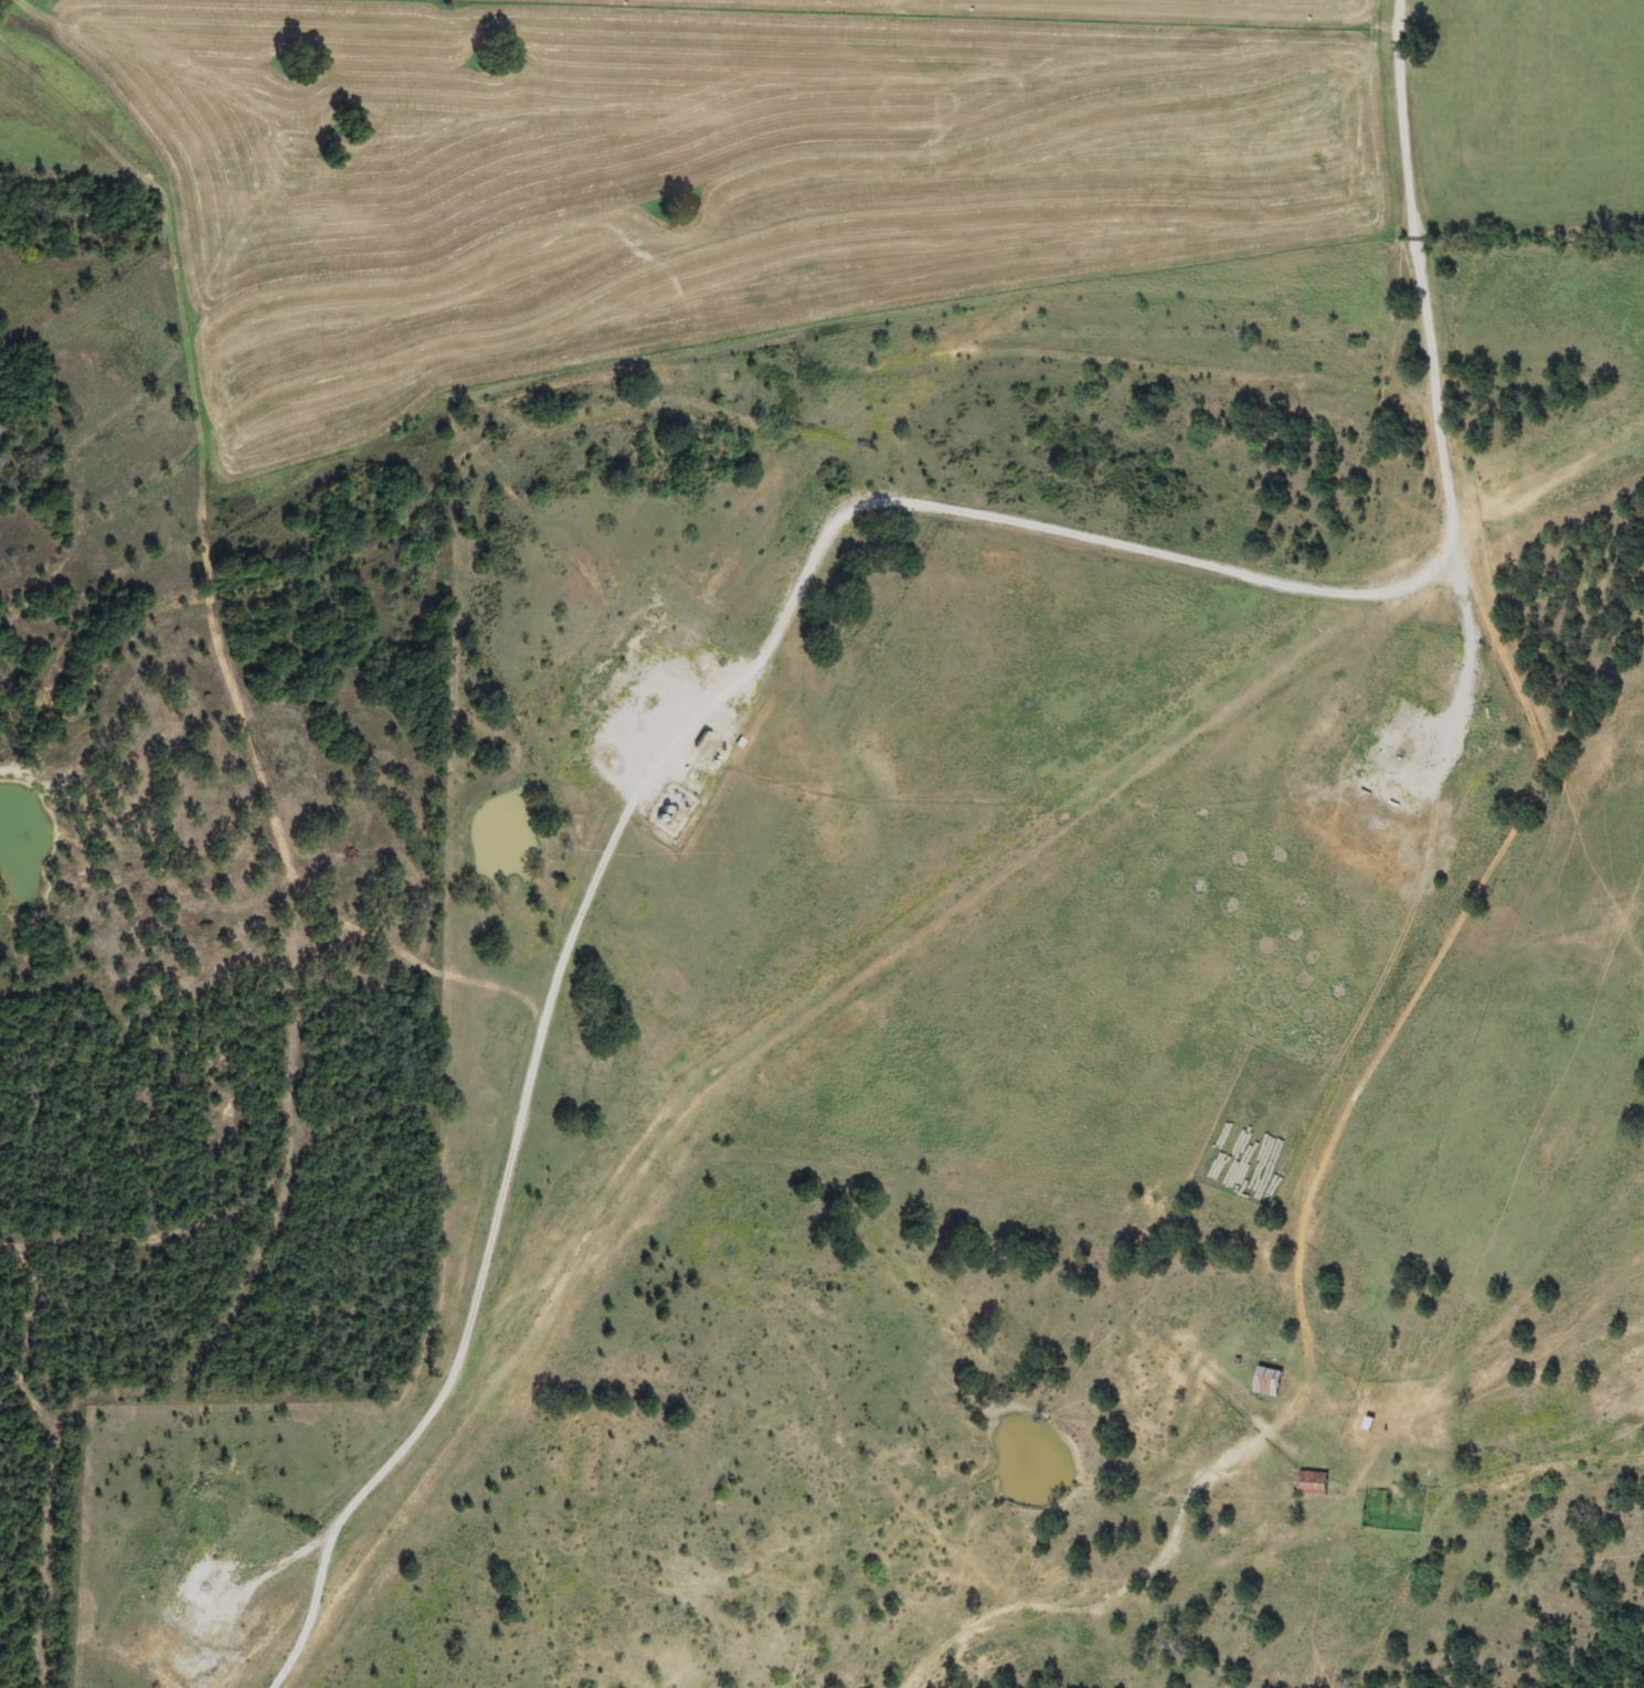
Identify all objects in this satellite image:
building: (1270, 1381)
building: (1315, 1483)

